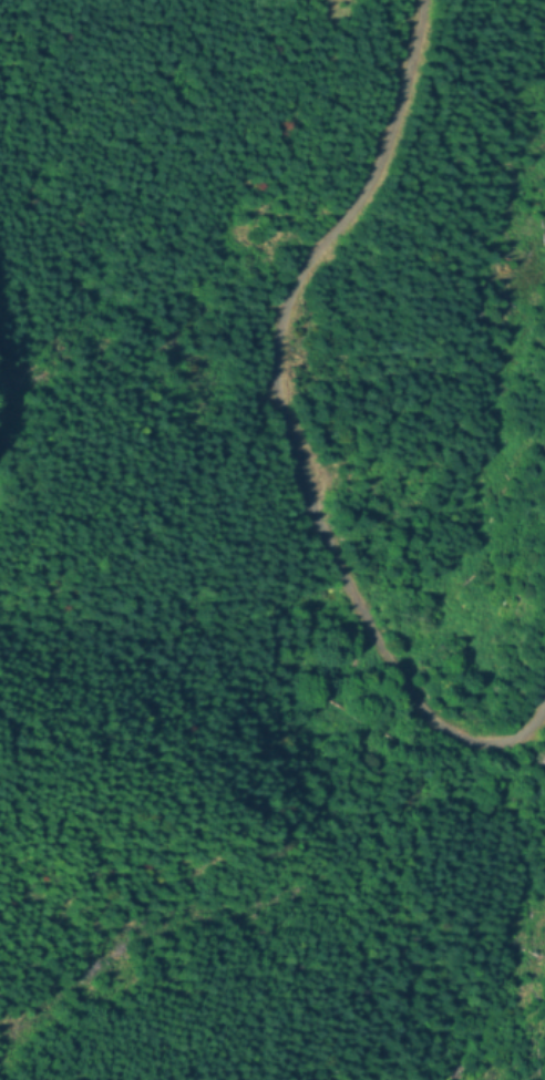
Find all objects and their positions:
road: (287, 432)

